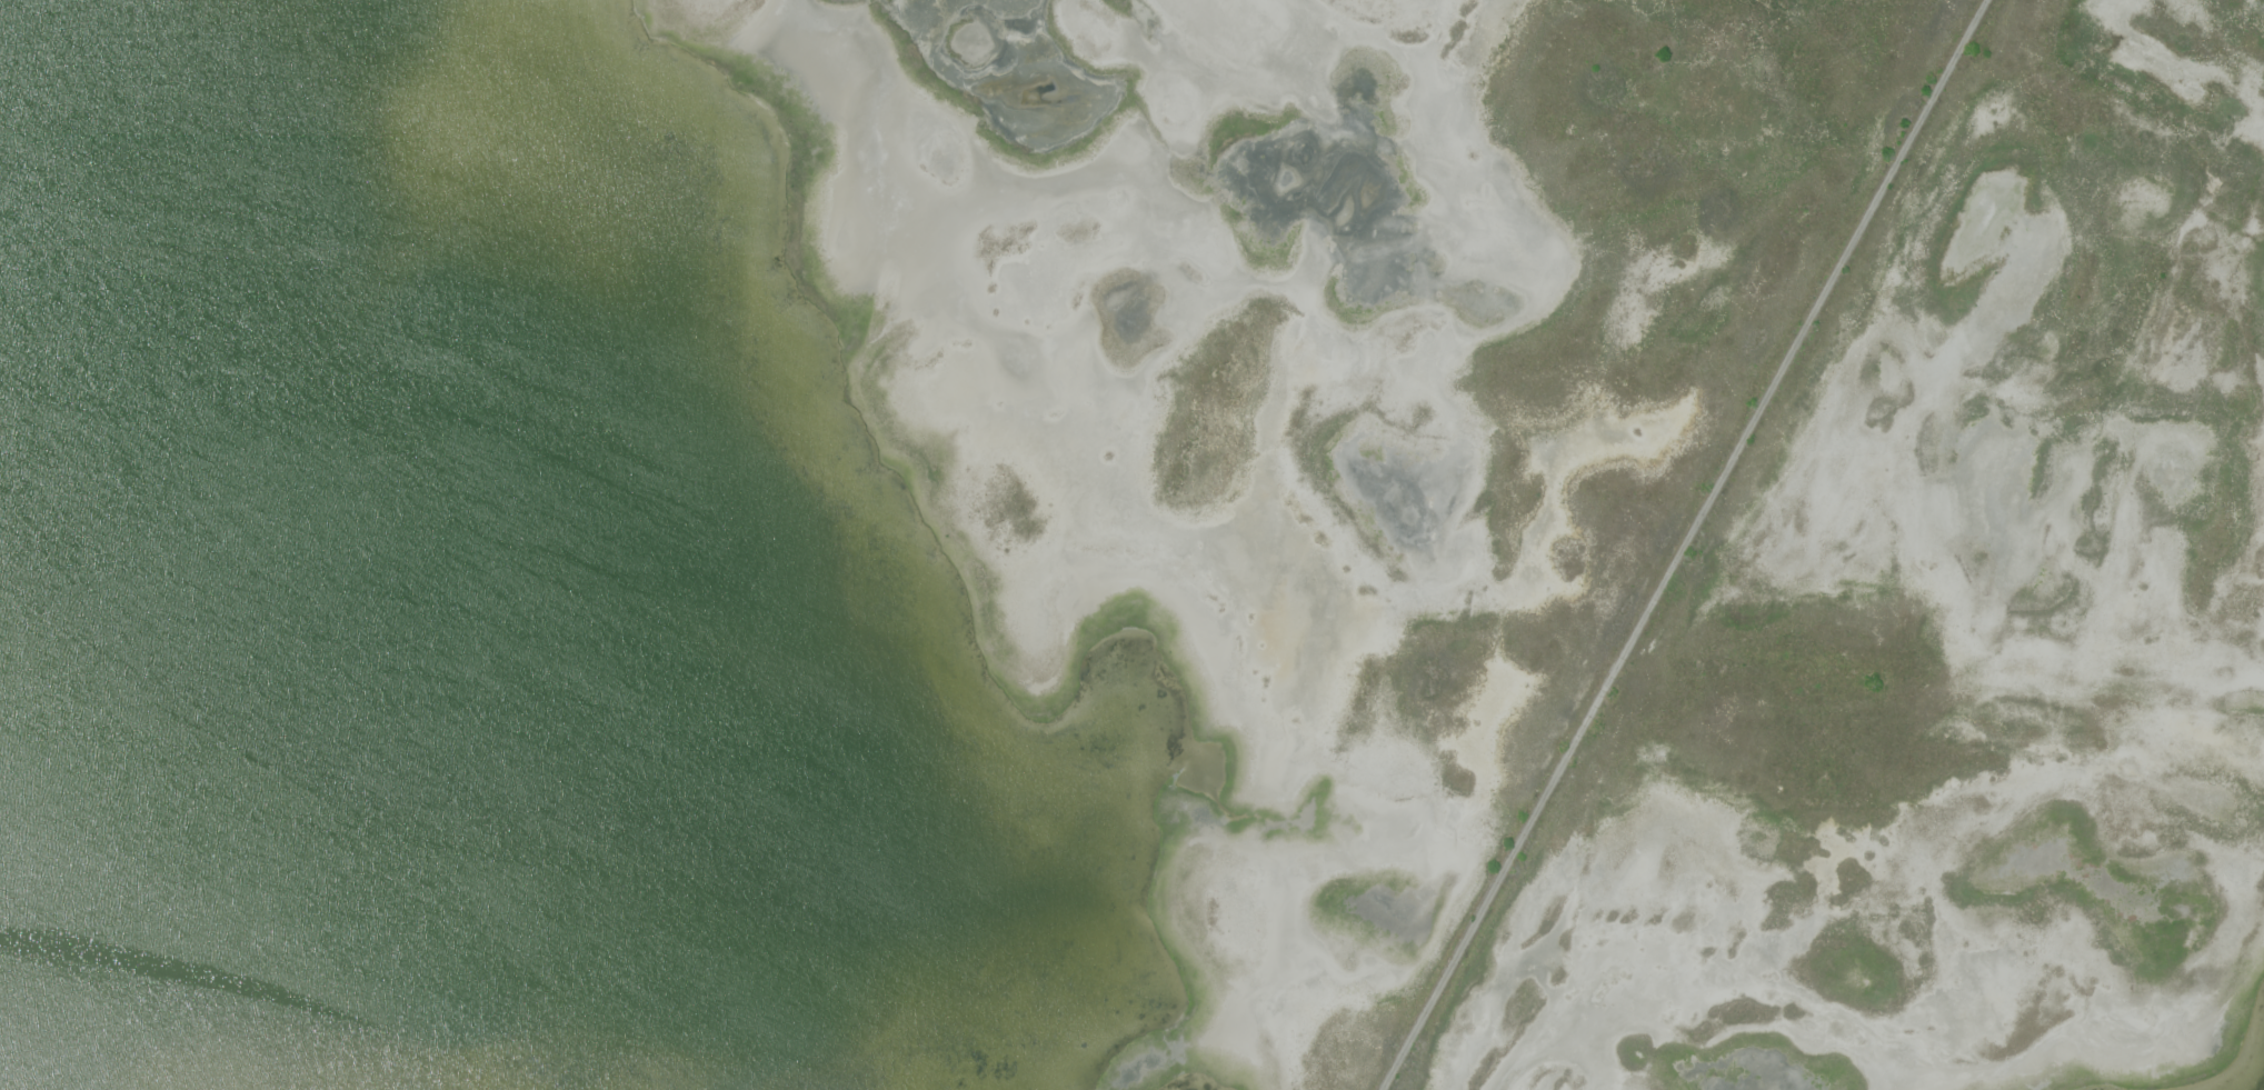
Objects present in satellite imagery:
power plant: (1131, 544)
road: (1683, 544)

